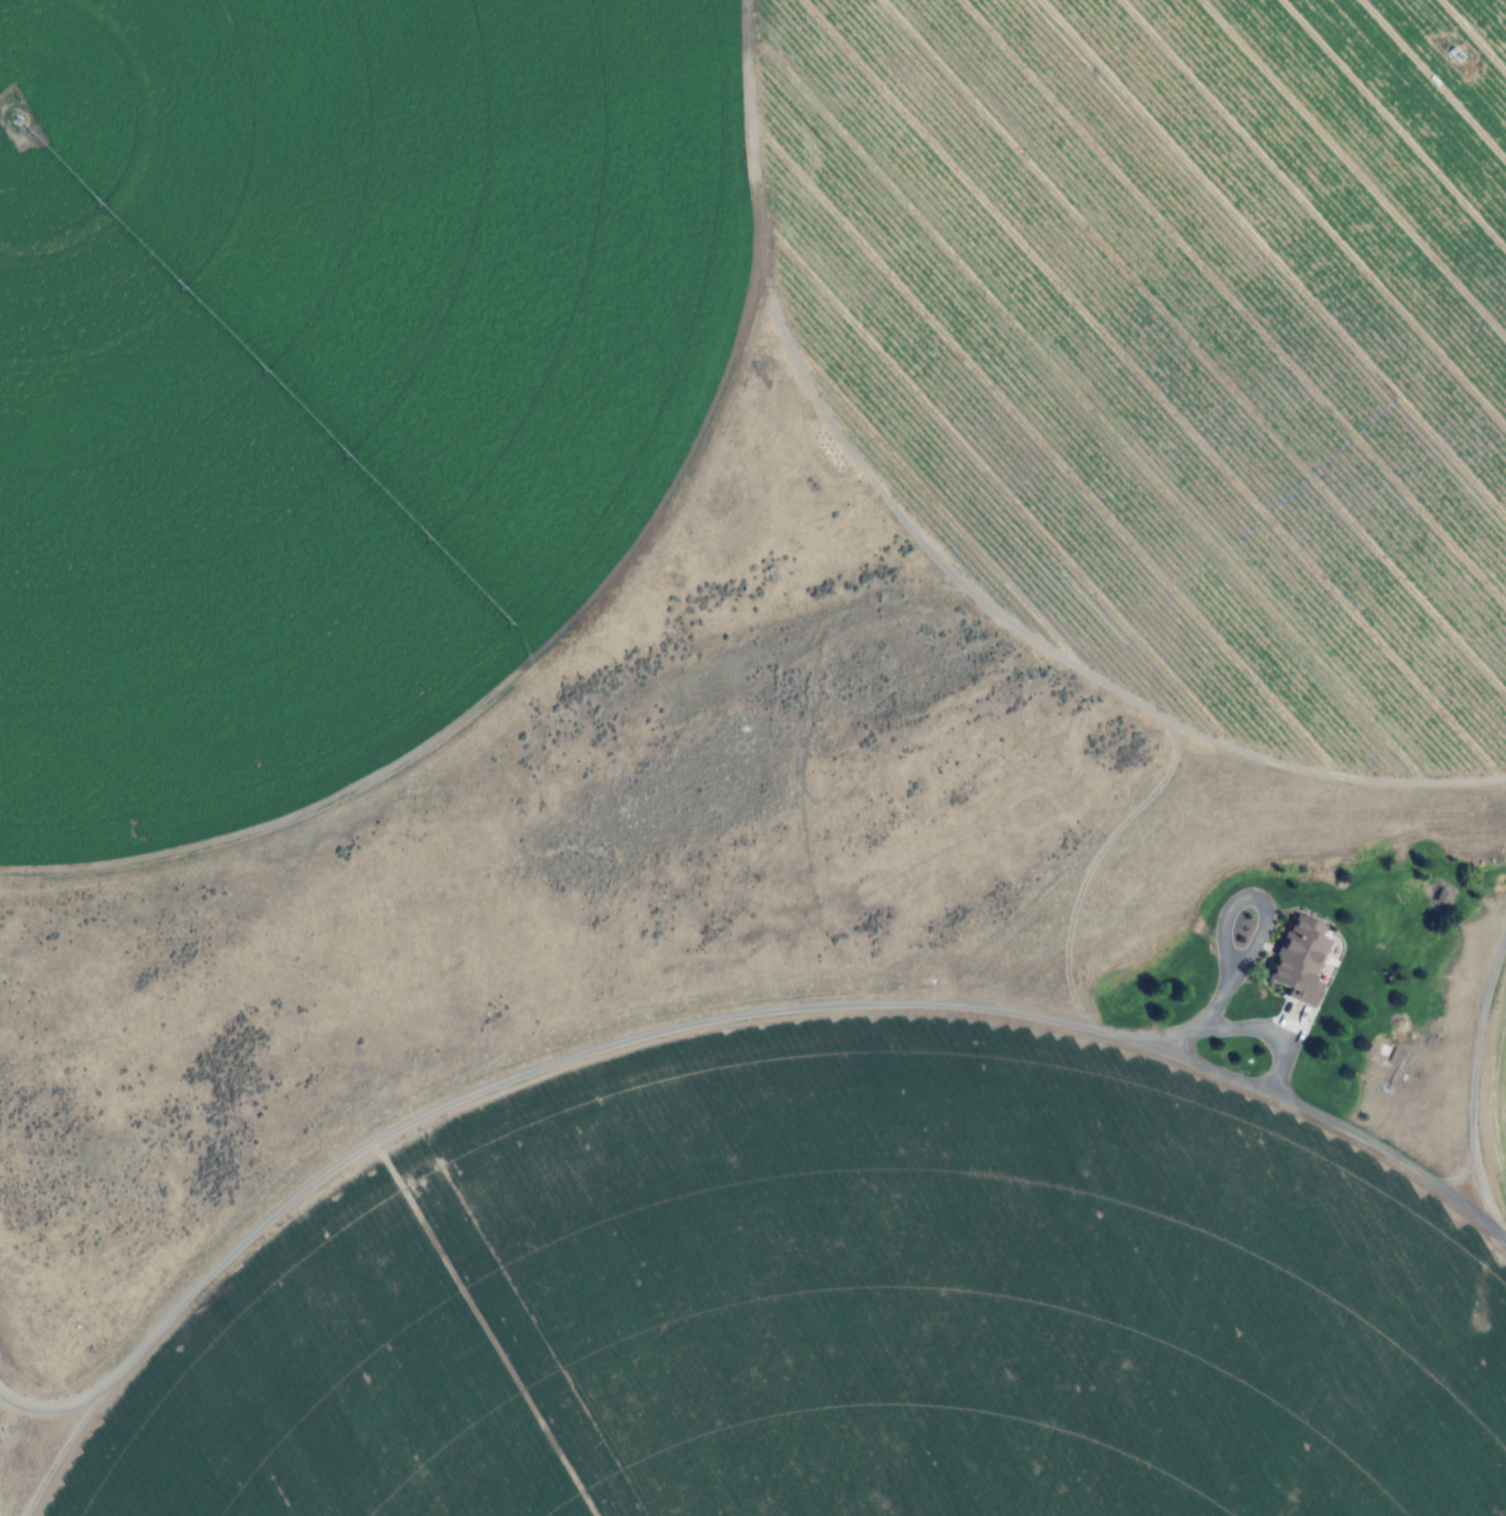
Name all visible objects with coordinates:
building: (1442, 899)
building: (1296, 958)

